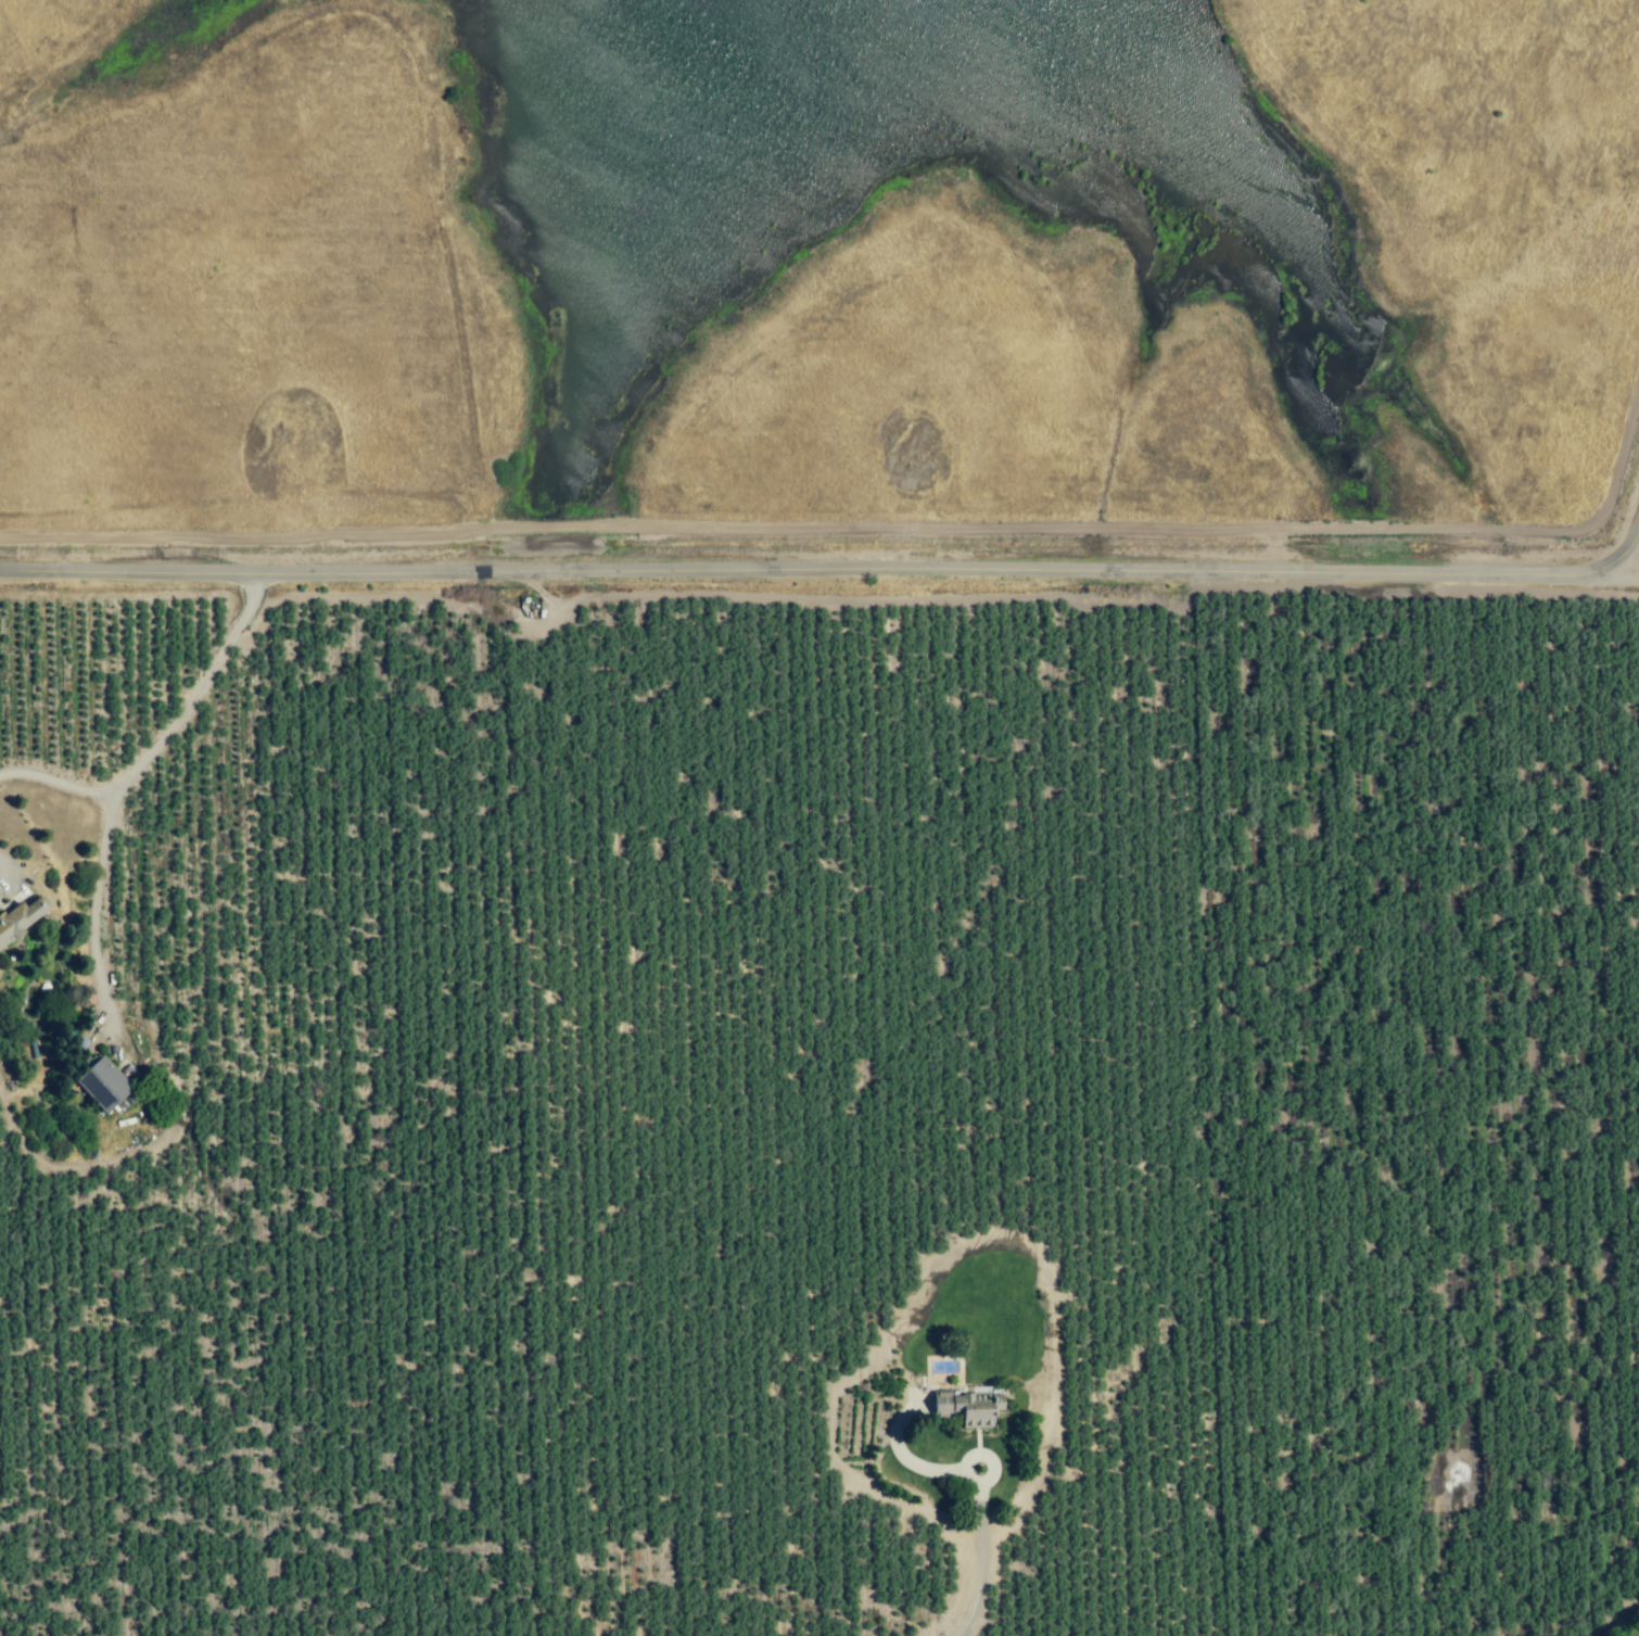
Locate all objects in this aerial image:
road: (838, 570)
road: (1628, 571)
road: (120, 777)
road: (53, 781)
building: (20, 921)
building: (104, 1085)
crop: (818, 1114)
building: (967, 1403)
road: (976, 1493)

